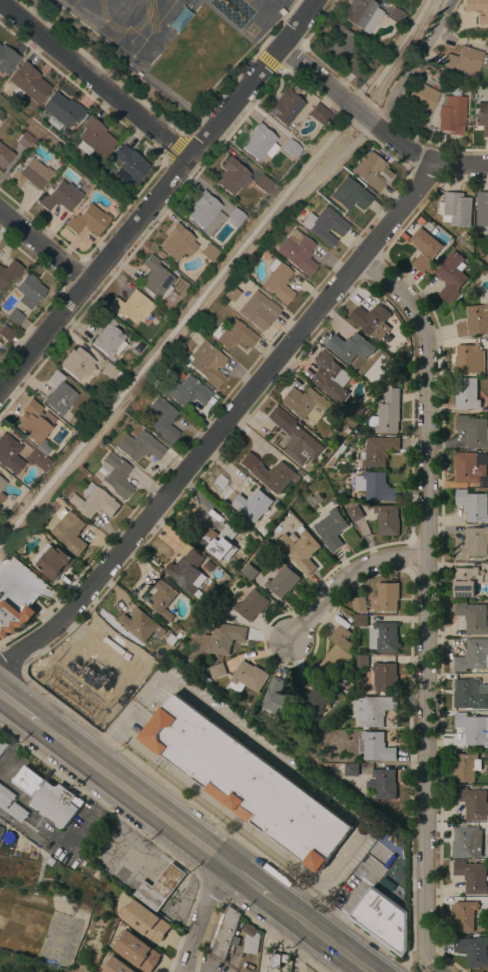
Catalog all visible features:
building: (474, 9)
building: (362, 14)
building: (395, 16)
building: (338, 42)
building: (6, 59)
building: (466, 61)
road: (268, 62)
building: (354, 68)
road: (410, 69)
road: (93, 80)
building: (27, 83)
building: (455, 92)
building: (419, 102)
building: (285, 107)
building: (61, 111)
building: (318, 113)
building: (451, 113)
building: (1, 115)
building: (482, 117)
road: (374, 125)
building: (93, 138)
building: (24, 140)
building: (258, 141)
road: (173, 147)
building: (290, 148)
building: (28, 155)
building: (4, 156)
building: (127, 165)
building: (371, 171)
building: (30, 174)
building: (232, 176)
building: (262, 183)
road: (156, 194)
building: (349, 194)
building: (63, 195)
building: (455, 209)
building: (482, 209)
building: (204, 211)
building: (234, 216)
building: (88, 220)
building: (324, 225)
building: (176, 243)
building: (423, 247)
road: (42, 248)
building: (297, 251)
building: (208, 252)
building: (8, 271)
building: (450, 277)
building: (155, 278)
building: (277, 281)
building: (28, 291)
building: (131, 307)
building: (255, 307)
building: (13, 316)
building: (370, 320)
building: (474, 321)
building: (5, 333)
building: (232, 335)
building: (107, 336)
building: (349, 347)
building: (468, 359)
building: (76, 363)
building: (205, 363)
building: (111, 373)
building: (329, 376)
building: (185, 391)
building: (58, 393)
building: (465, 394)
building: (304, 403)
building: (388, 413)
building: (162, 419)
building: (33, 422)
road: (224, 424)
building: (473, 432)
building: (294, 438)
building: (139, 446)
building: (377, 450)
building: (8, 451)
building: (37, 460)
building: (470, 468)
building: (268, 473)
building: (114, 475)
building: (2, 483)
building: (374, 486)
building: (1, 496)
building: (313, 499)
building: (93, 501)
building: (247, 502)
building: (472, 505)
building: (353, 513)
parking lot: (1, 517)
building: (386, 519)
building: (330, 529)
building: (71, 533)
building: (224, 540)
building: (472, 544)
building: (299, 550)
building: (54, 563)
building: (186, 572)
building: (249, 572)
road: (344, 576)
building: (281, 581)
building: (465, 581)
building: (16, 595)
building: (386, 597)
road: (424, 597)
building: (162, 598)
building: (358, 604)
building: (250, 605)
building: (473, 618)
building: (359, 620)
building: (139, 625)
building: (382, 637)
building: (221, 638)
building: (170, 639)
building: (117, 641)
building: (337, 651)
building: (163, 656)
building: (472, 656)
building: (360, 661)
building: (216, 671)
building: (246, 677)
building: (384, 677)
building: (470, 694)
building: (319, 696)
building: (275, 700)
road: (23, 711)
building: (374, 711)
building: (473, 729)
building: (306, 730)
building: (2, 743)
building: (374, 747)
building: (205, 752)
building: (465, 767)
building: (351, 770)
building: (381, 784)
building: (48, 797)
road: (137, 798)
building: (472, 803)
building: (275, 805)
building: (11, 806)
road: (130, 819)
road: (79, 822)
road: (19, 826)
building: (0, 831)
building: (310, 831)
parking lot: (70, 838)
building: (466, 843)
building: (328, 848)
road: (137, 856)
building: (471, 877)
road: (168, 880)
road: (250, 884)
building: (386, 884)
parking lot: (355, 885)
building: (159, 887)
road: (350, 890)
road: (189, 895)
building: (487, 905)
building: (463, 916)
road: (200, 917)
road: (325, 919)
building: (382, 920)
building: (144, 921)
road: (276, 923)
building: (224, 933)
road: (319, 935)
building: (250, 938)
park: (62, 940)
road: (286, 945)
road: (298, 949)
building: (472, 951)
building: (136, 952)
road: (263, 954)
building: (277, 959)
building: (117, 966)
road: (430, 966)

